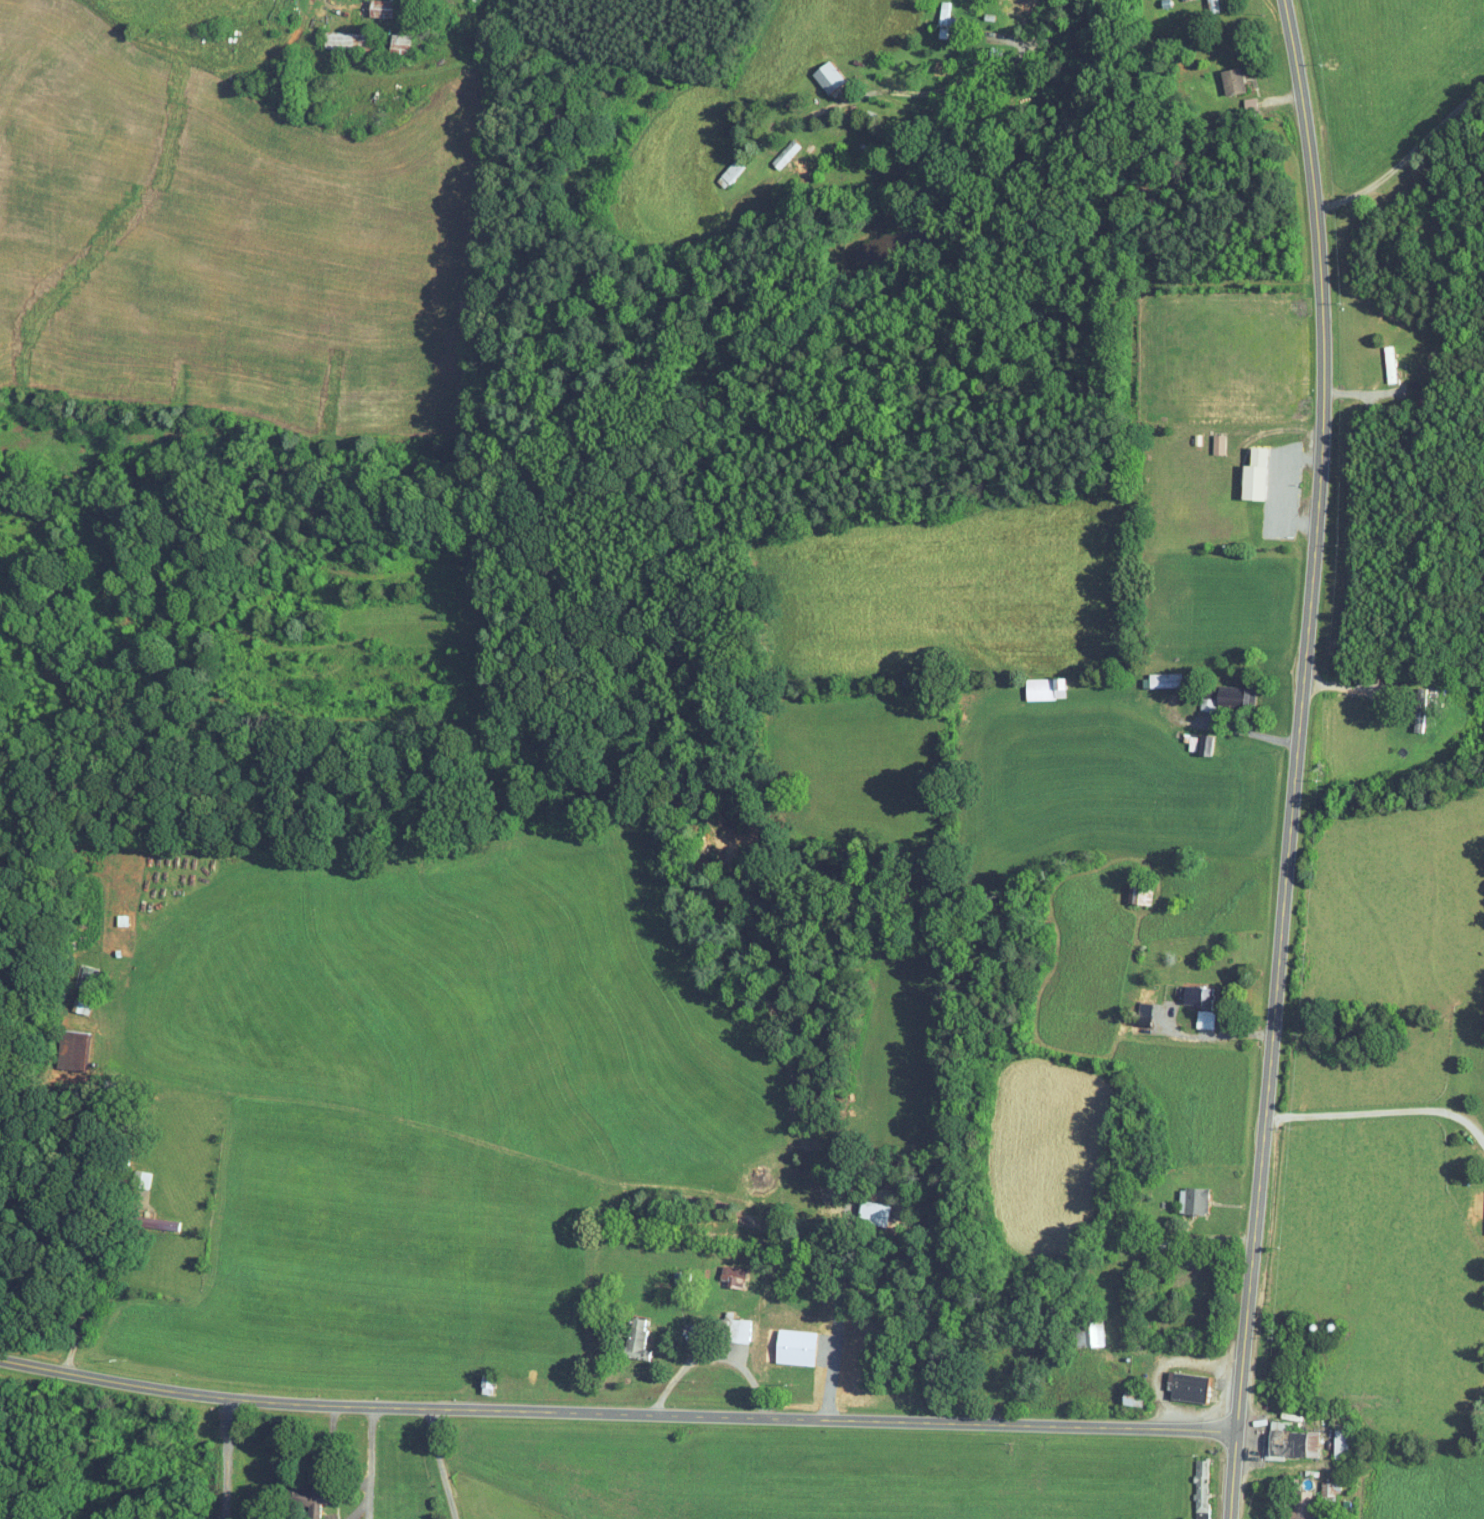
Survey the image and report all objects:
building: (1025, 5)
building: (381, 8)
building: (944, 20)
road: (1033, 40)
building: (346, 42)
building: (400, 44)
building: (828, 78)
building: (1233, 82)
road: (1407, 166)
building: (1218, 444)
building: (1255, 474)
building: (1164, 680)
building: (1045, 688)
building: (1221, 696)
building: (1419, 716)
building: (1205, 744)
road: (1295, 758)
building: (1200, 1004)
building: (77, 1048)
road: (1381, 1112)
building: (1193, 1201)
building: (161, 1224)
building: (1190, 1257)
building: (732, 1276)
building: (735, 1328)
building: (635, 1335)
building: (1090, 1336)
building: (795, 1347)
road: (711, 1356)
building: (1188, 1386)
road: (616, 1415)
building: (1292, 1441)
road: (224, 1461)
road: (368, 1465)
road: (441, 1465)
building: (1201, 1485)
building: (1300, 1505)
building: (309, 1507)
building: (1202, 1515)

